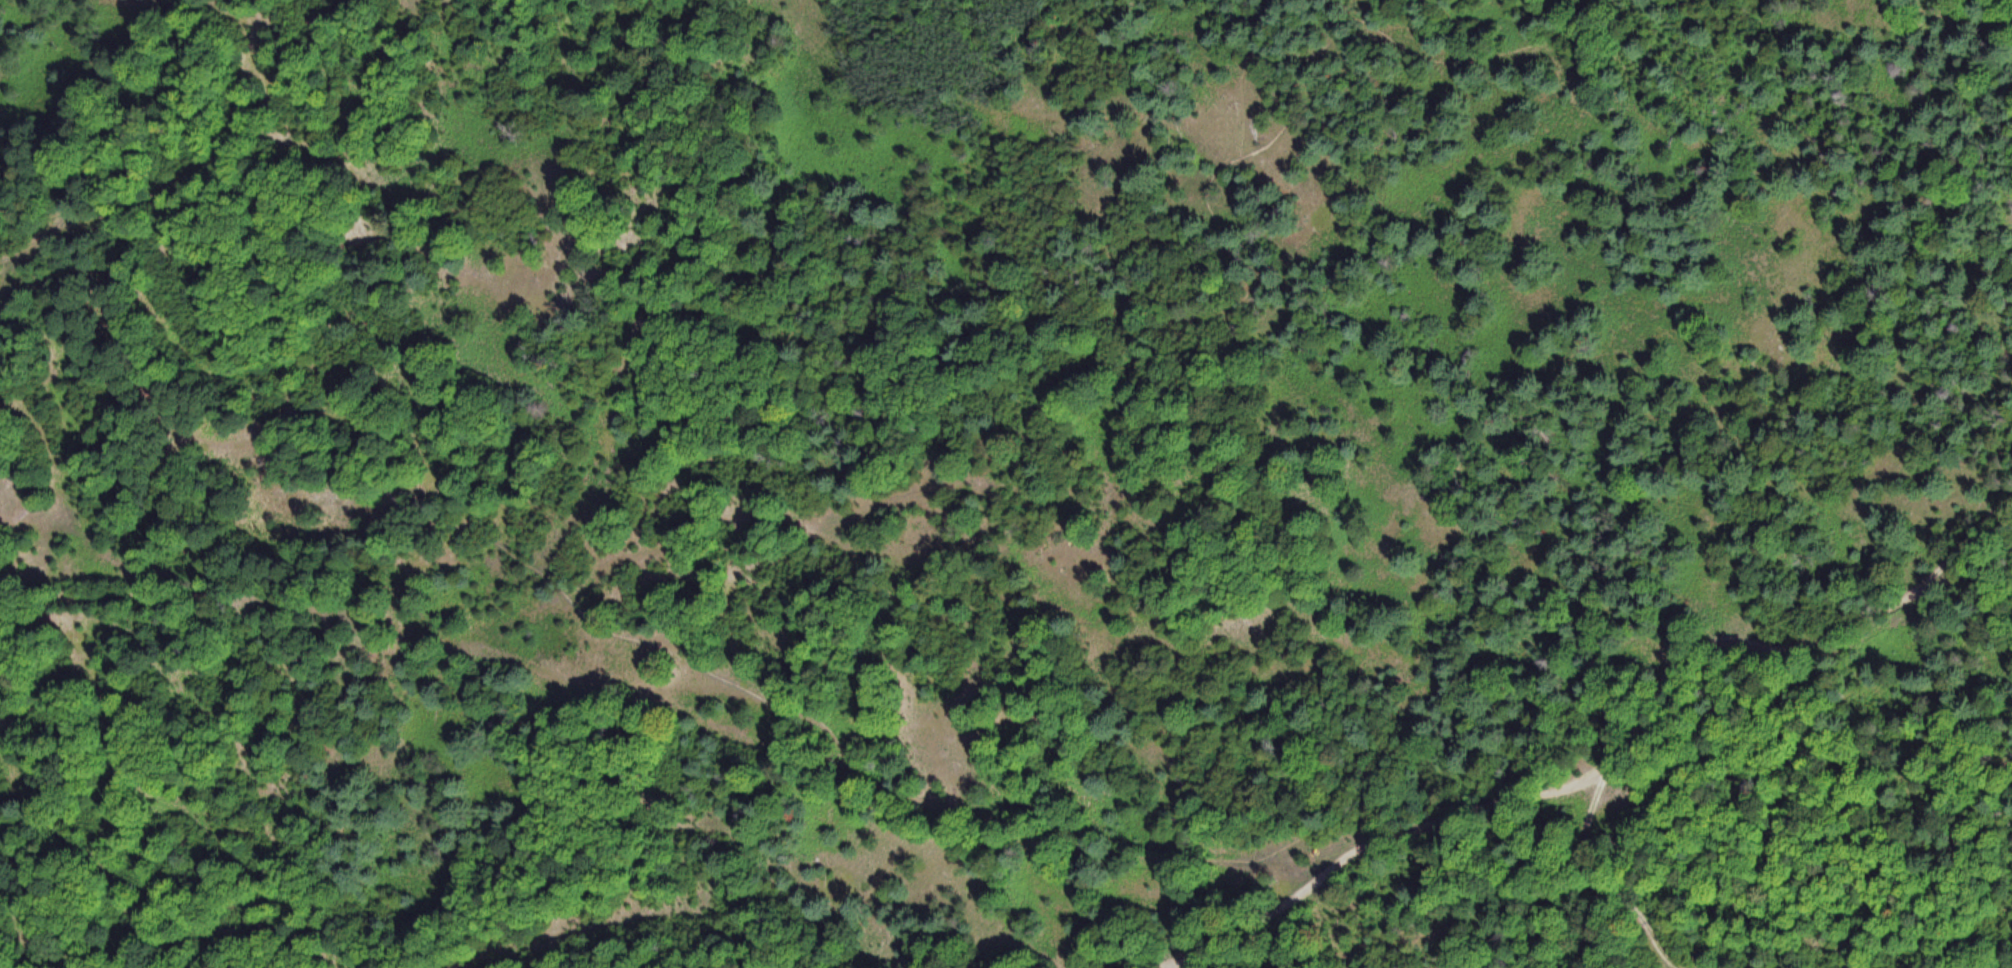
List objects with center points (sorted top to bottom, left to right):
road: (120, 138)
road: (1946, 557)
road: (1943, 581)
road: (610, 626)
road: (1641, 718)
road: (1603, 879)
road: (1311, 884)
road: (1218, 952)
road: (1184, 953)

